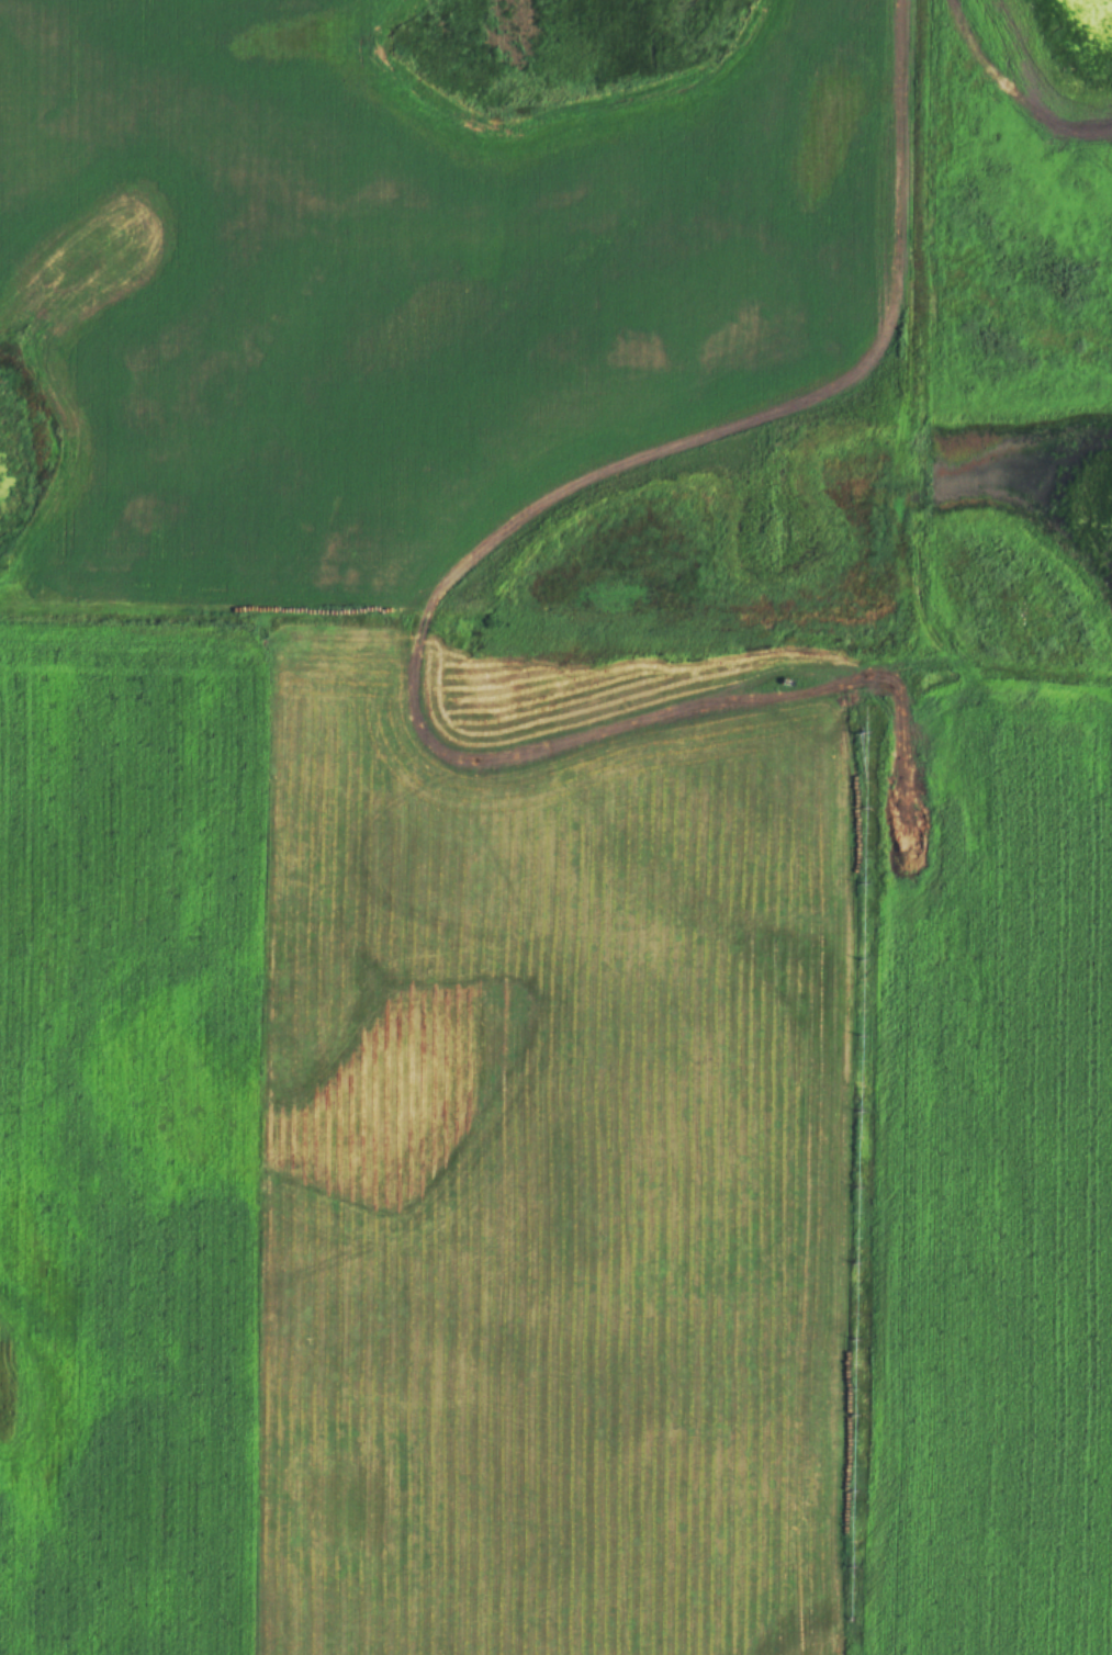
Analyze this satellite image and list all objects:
road: (908, 361)

